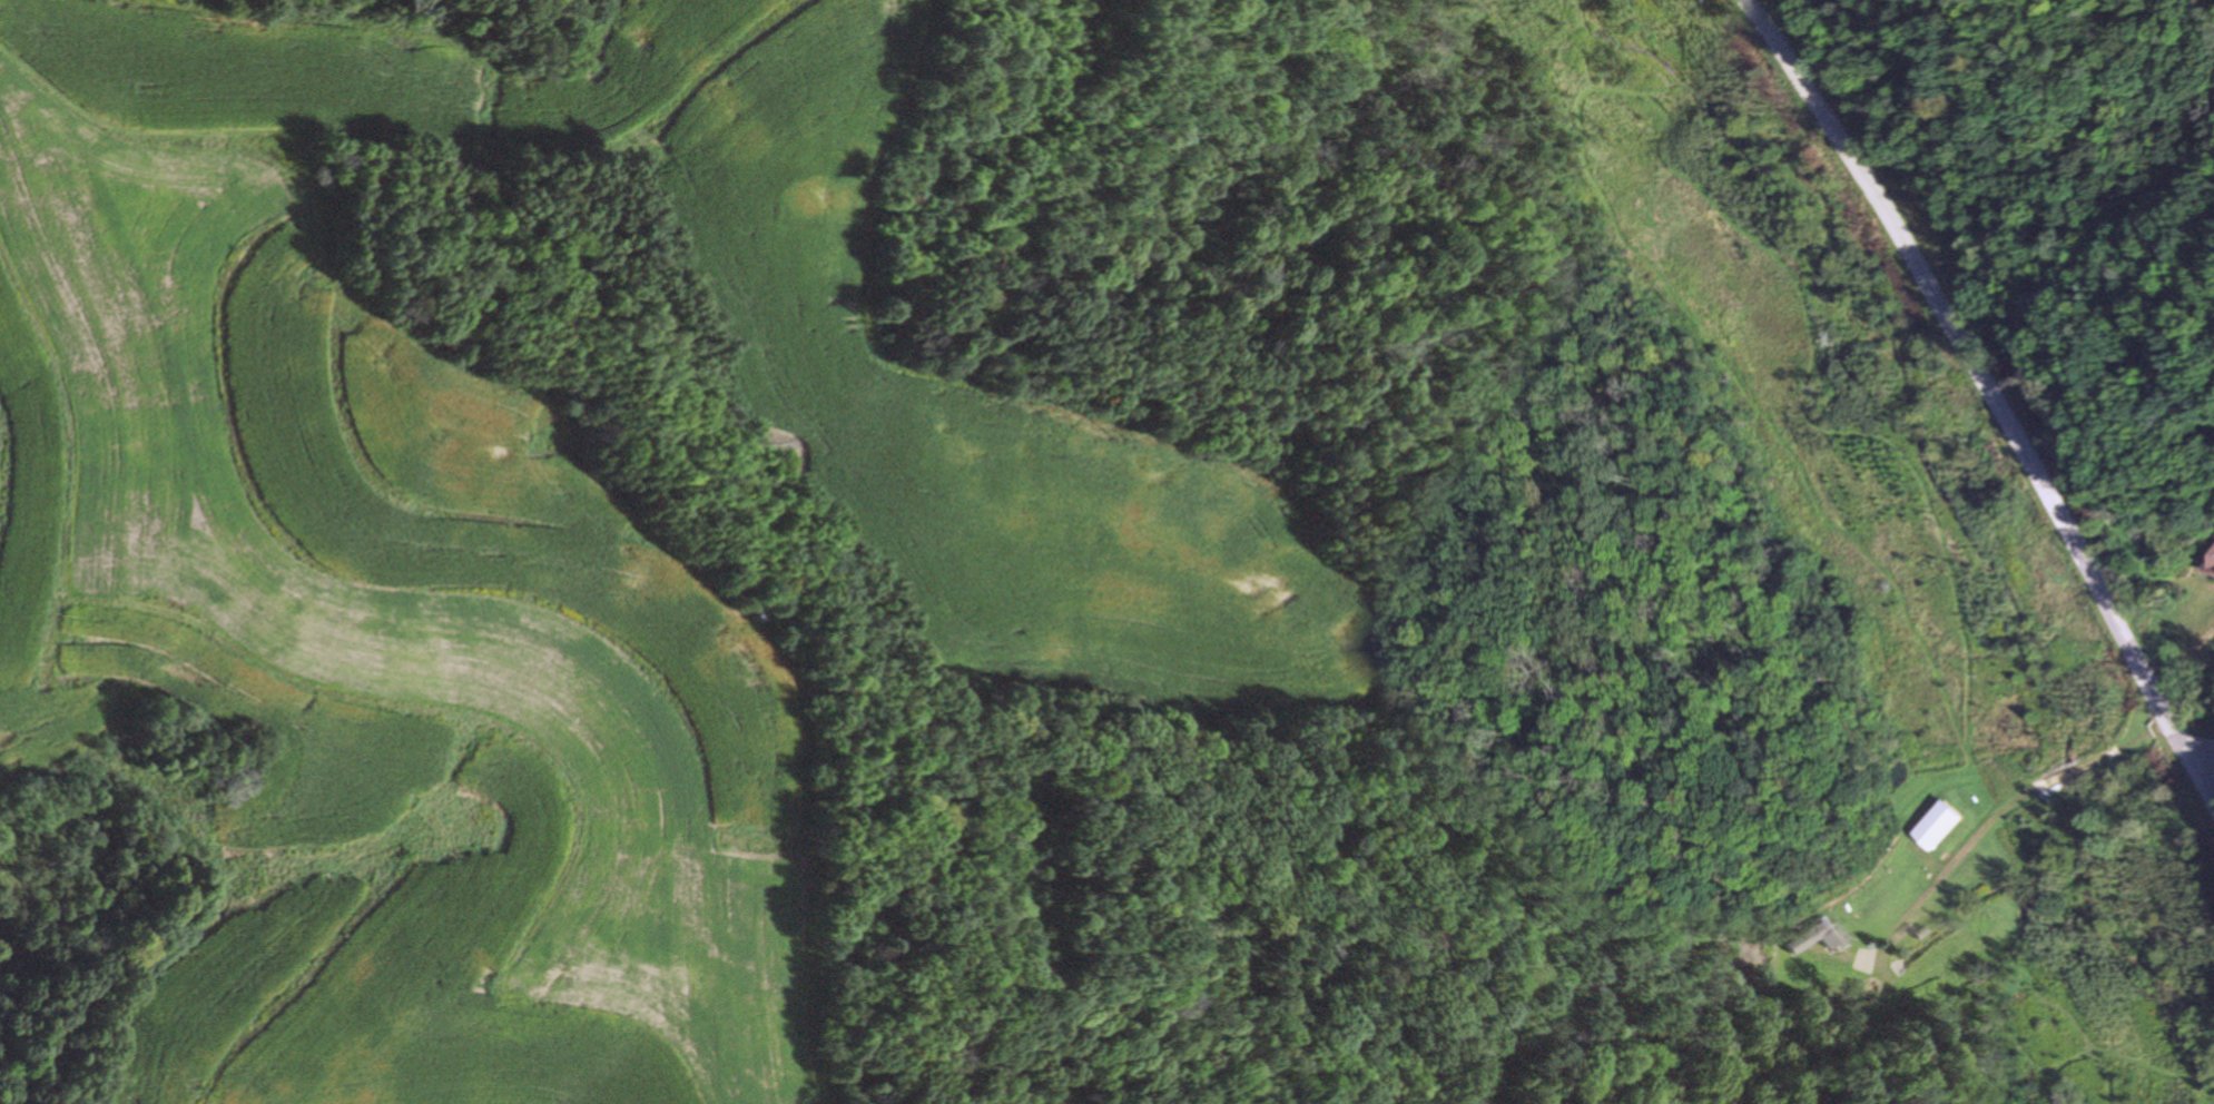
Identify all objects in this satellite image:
road: (1991, 392)
building: (2211, 563)
road: (2205, 757)
building: (1937, 826)
building: (1812, 937)

